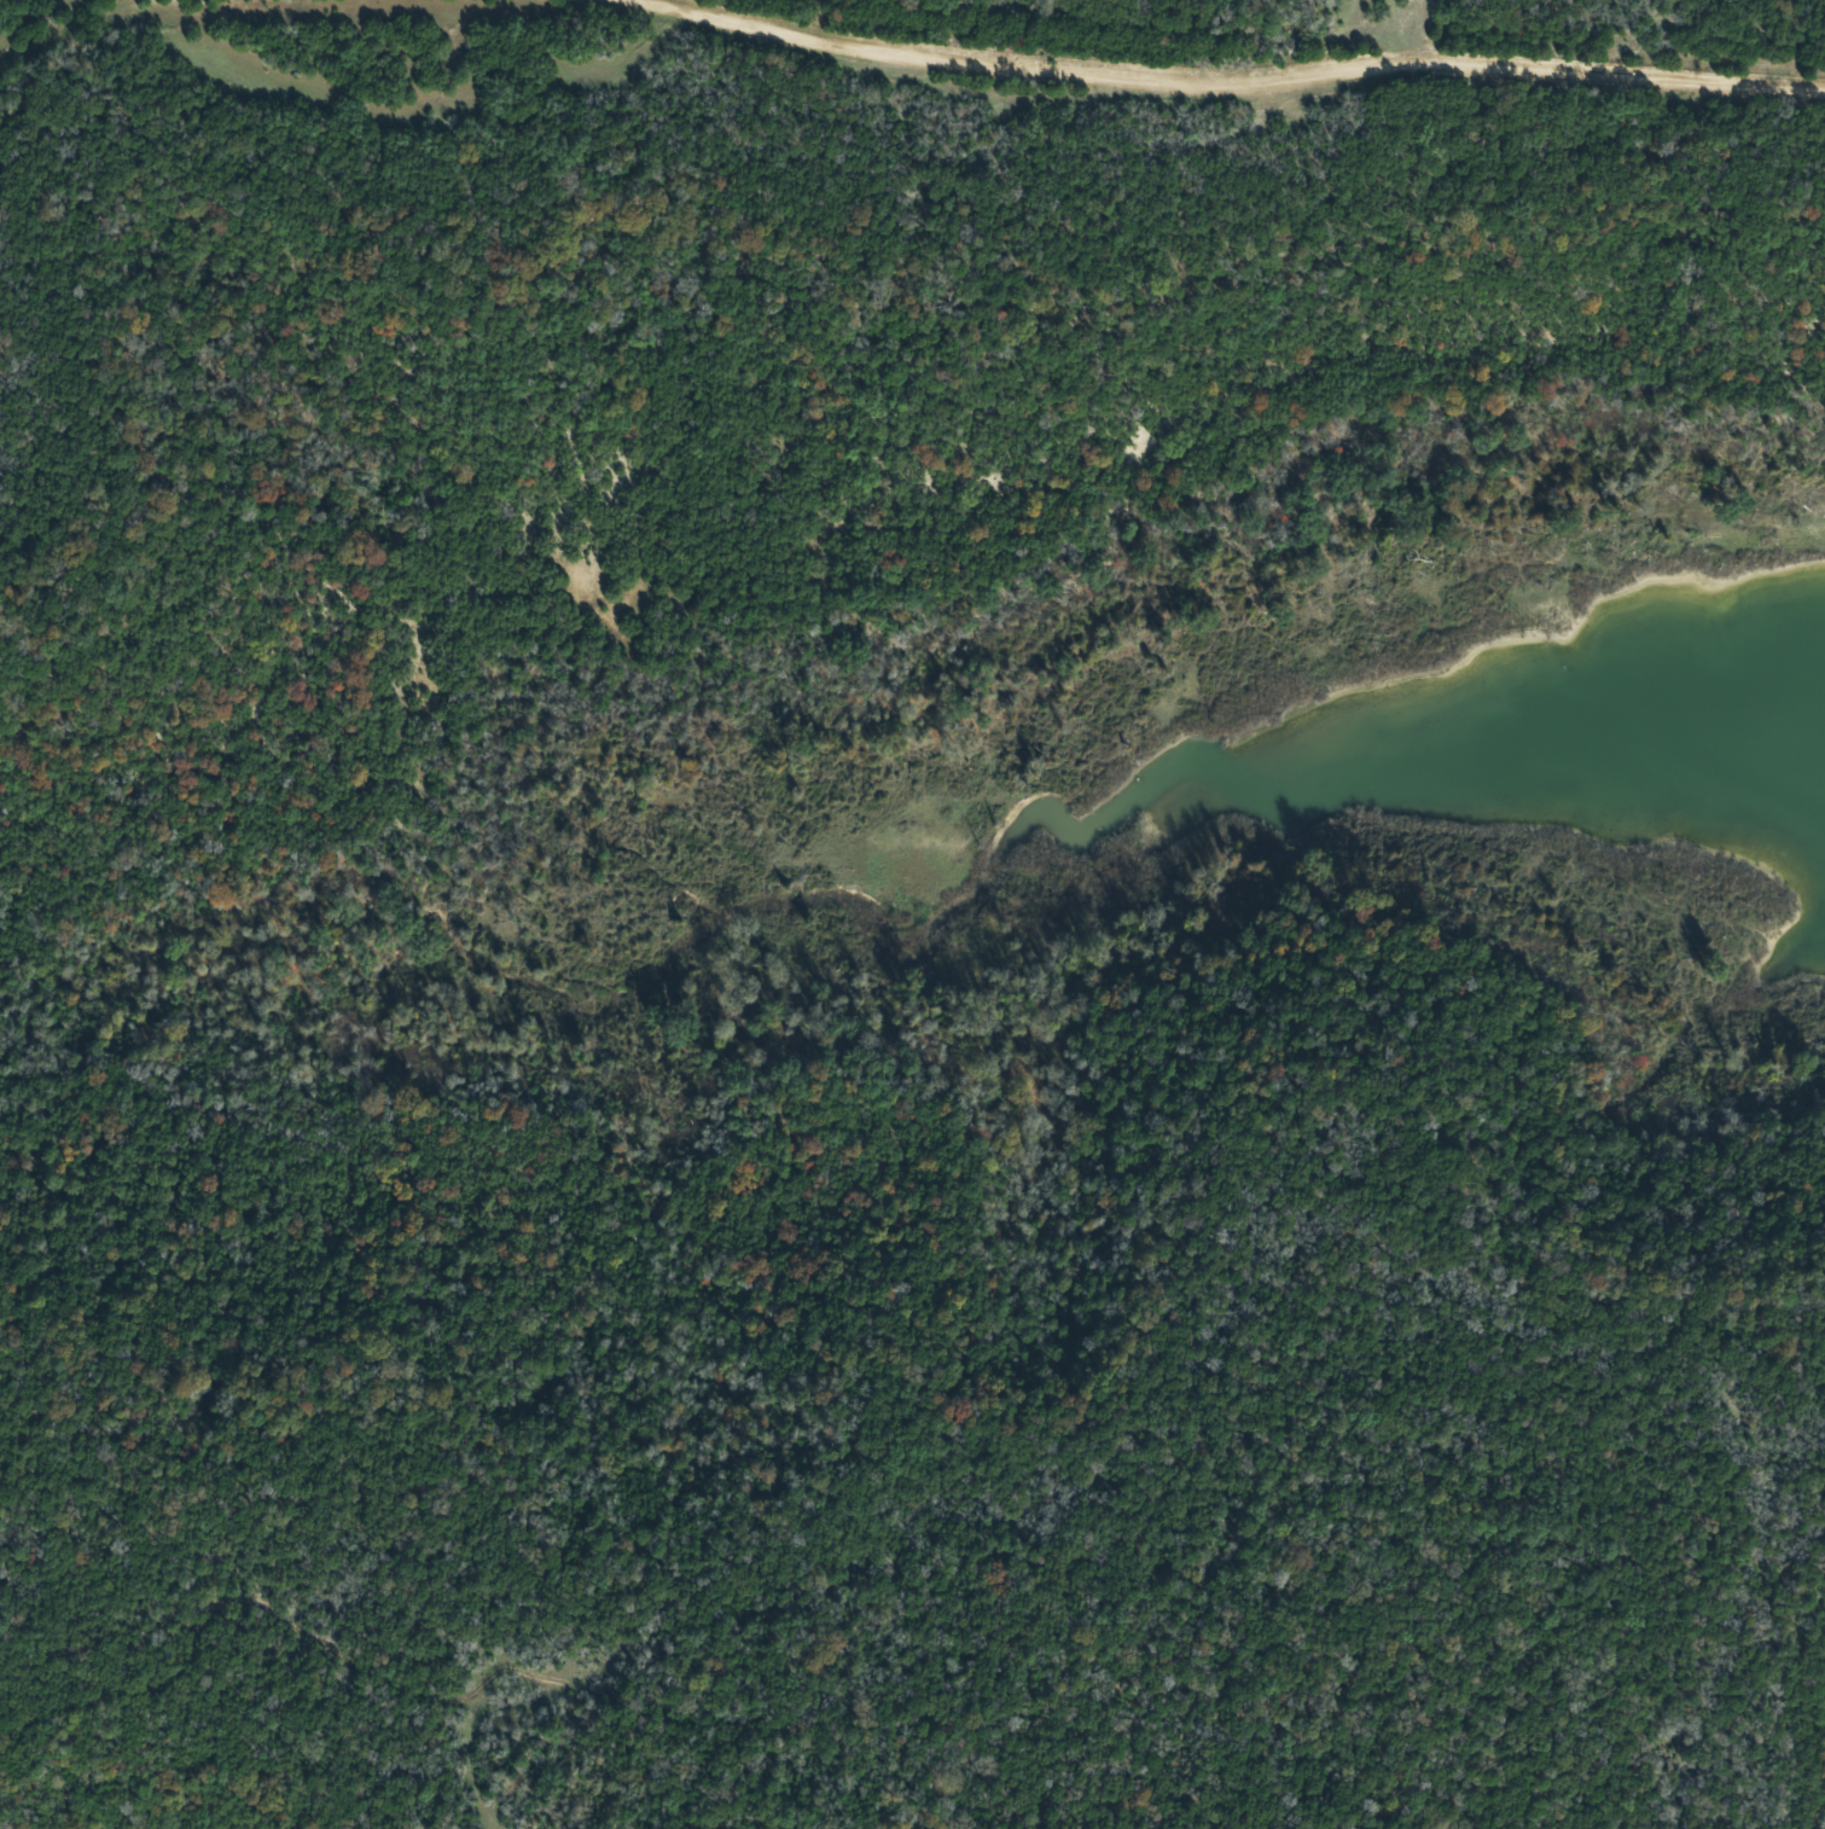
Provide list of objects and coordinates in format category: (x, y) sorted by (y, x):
road: (1230, 74)

